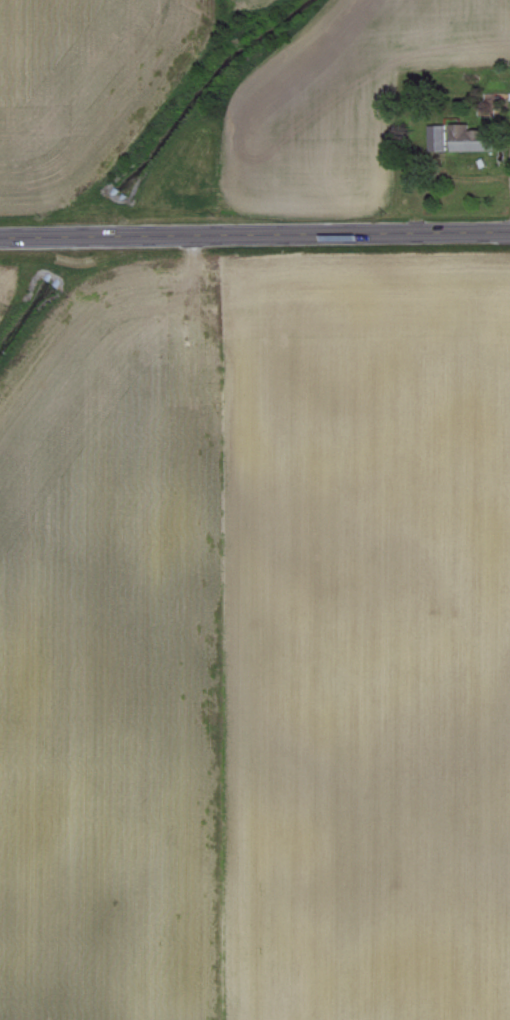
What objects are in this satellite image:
building: (438, 138)
building: (471, 139)
road: (255, 233)

